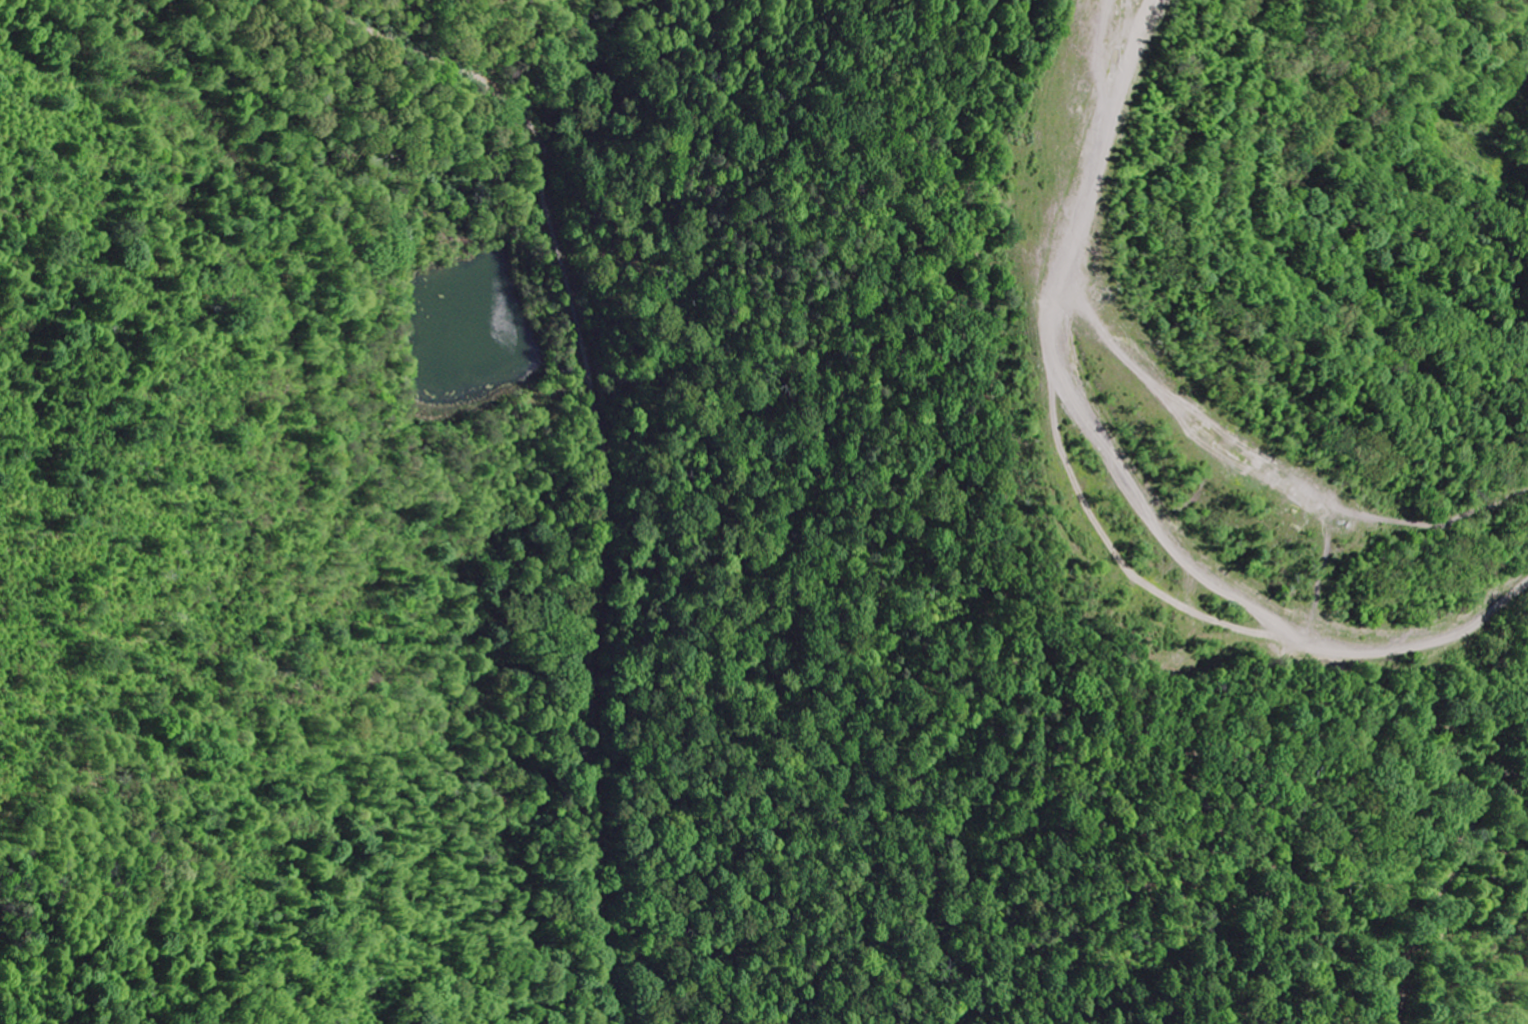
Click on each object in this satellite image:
road: (1114, 473)

